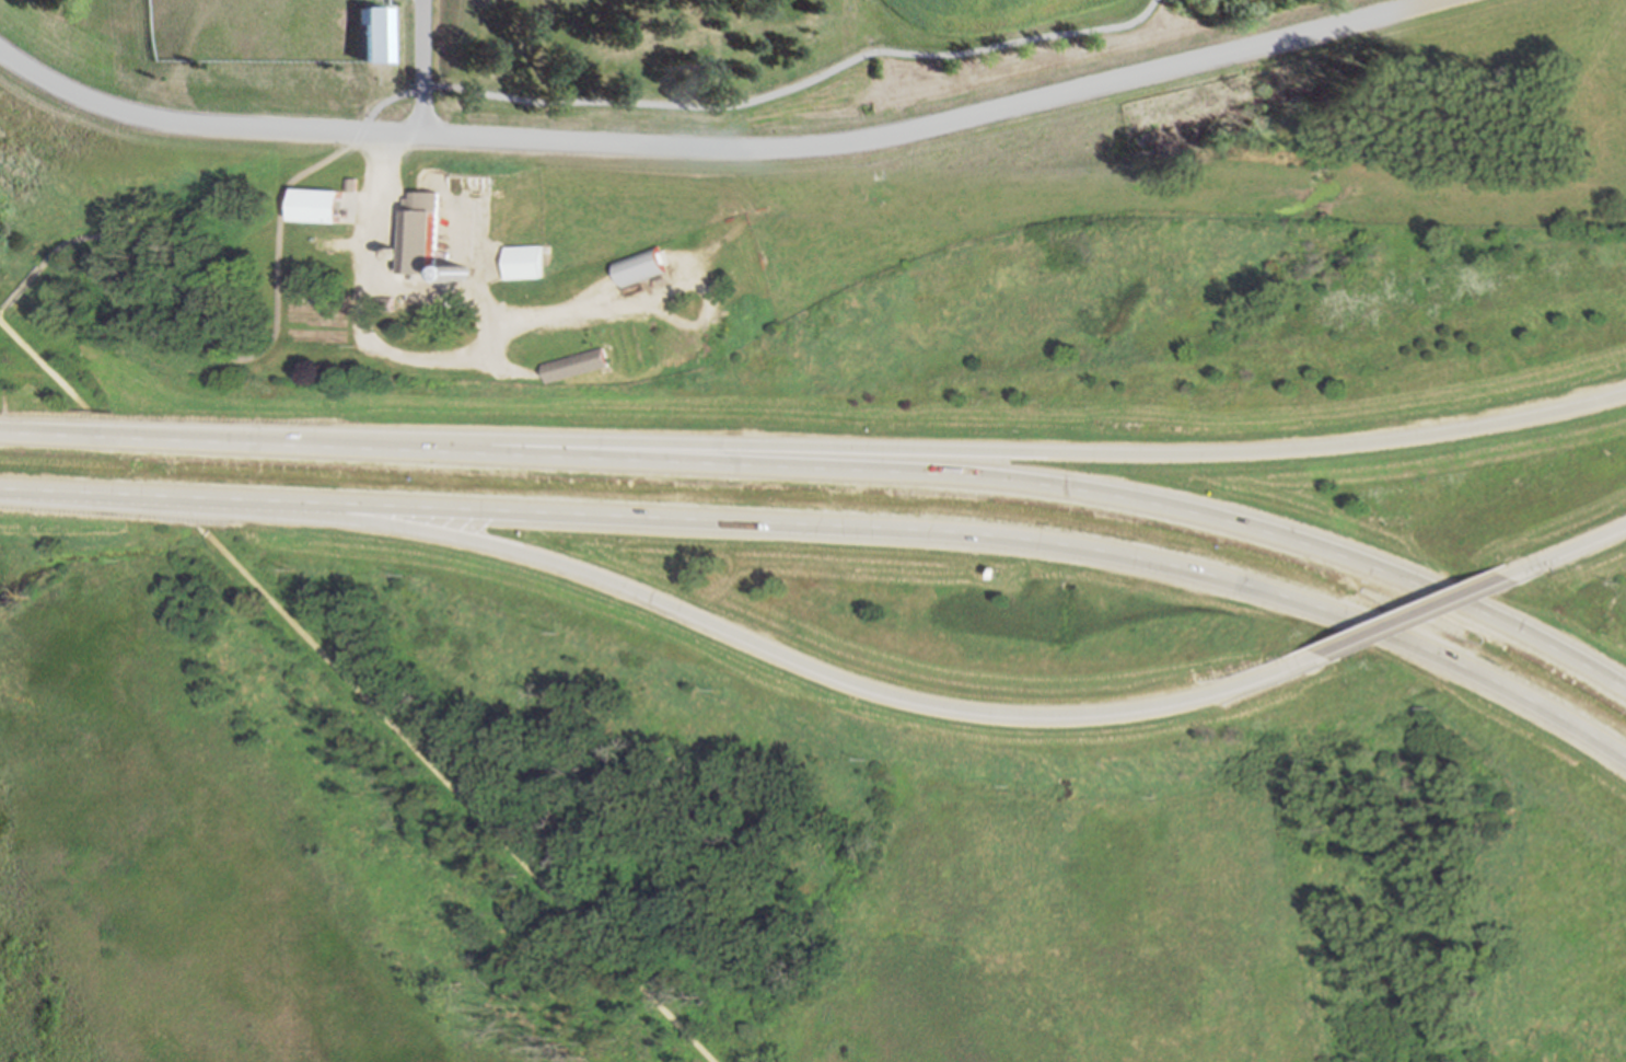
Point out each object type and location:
crop: (975, 10)
building: (374, 34)
road: (420, 68)
road: (475, 94)
road: (719, 149)
building: (357, 183)
building: (317, 207)
park: (86, 227)
building: (421, 235)
building: (524, 264)
building: (636, 266)
building: (458, 275)
silo: (458, 275)
road: (21, 288)
road: (448, 298)
road: (1, 309)
road: (498, 349)
road: (44, 366)
building: (576, 366)
road: (510, 370)
road: (886, 446)
road: (833, 469)
road: (835, 524)
road: (1566, 549)
road: (674, 608)
road: (1414, 615)
road: (458, 799)

